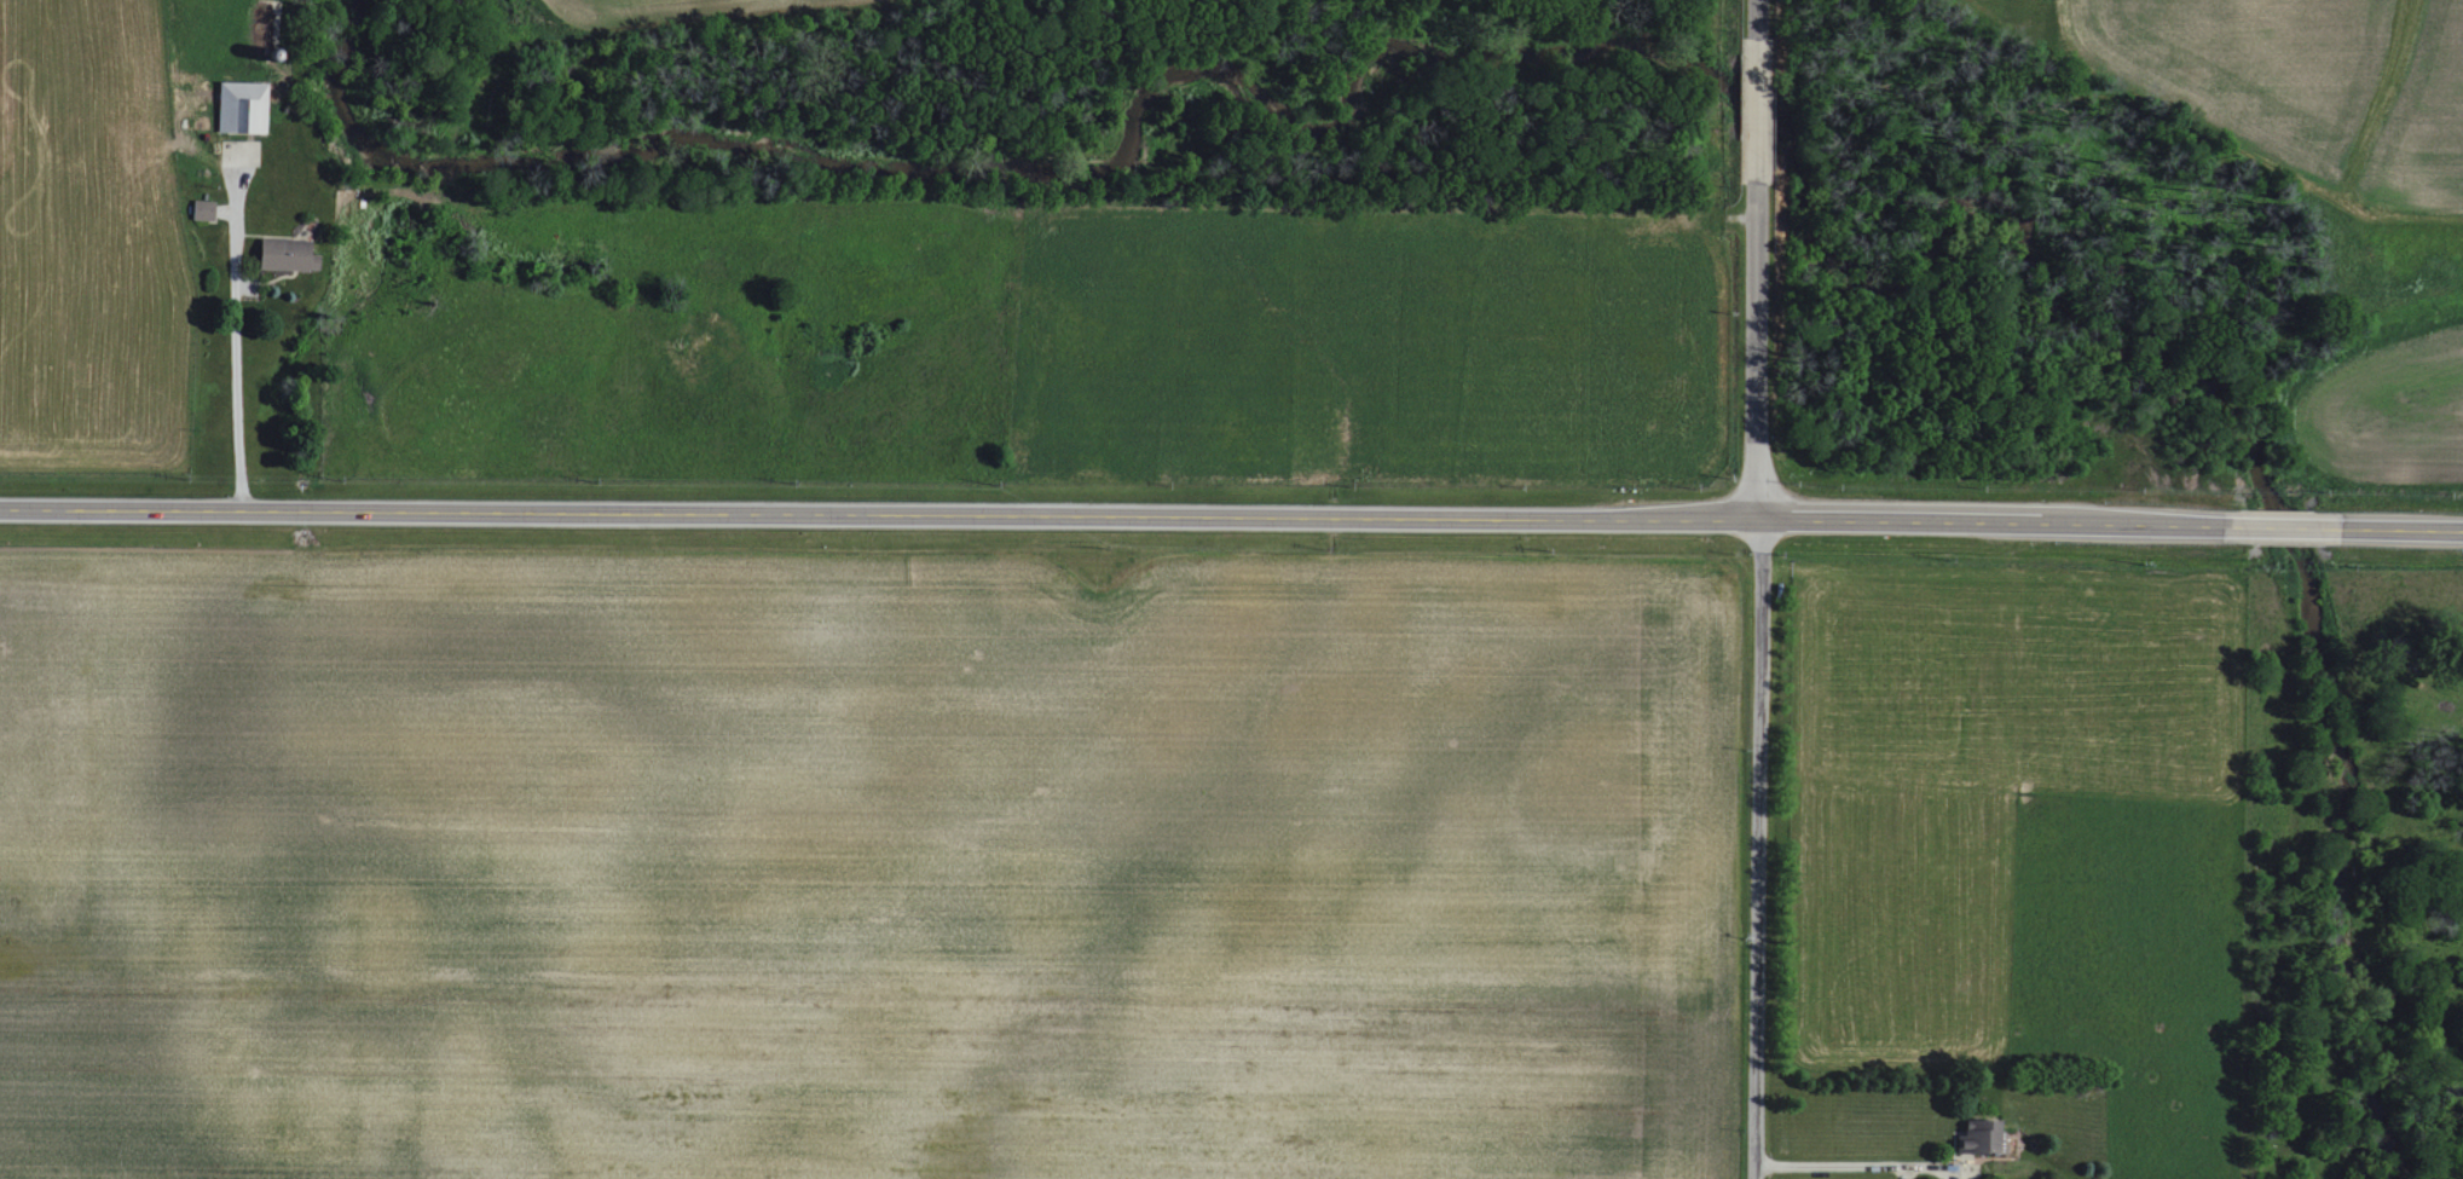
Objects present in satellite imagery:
building: (239, 108)
building: (201, 210)
building: (284, 255)
road: (238, 397)
road: (1231, 515)
road: (1750, 589)
road: (1850, 1166)

